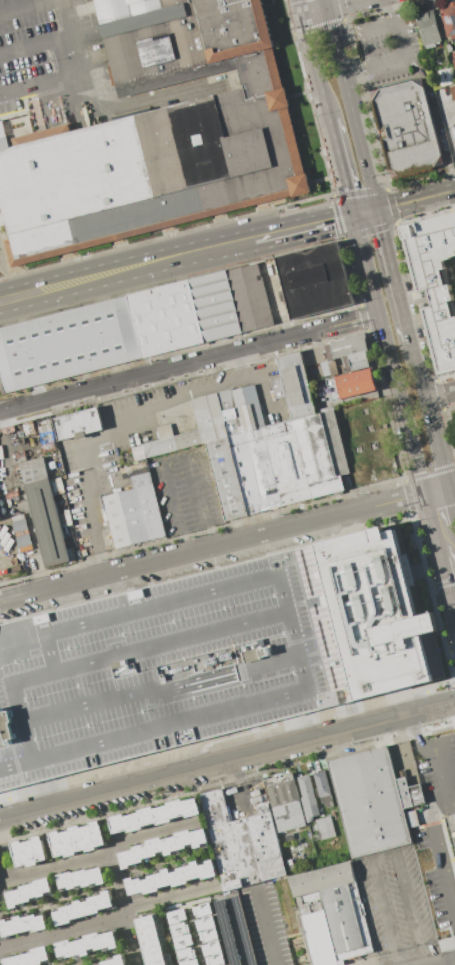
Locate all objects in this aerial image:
road: (325, 5)
road: (346, 5)
road: (30, 7)
road: (301, 8)
road: (315, 13)
building: (448, 19)
building: (428, 28)
road: (378, 29)
road: (399, 40)
road: (34, 45)
parking lot: (41, 48)
parking lot: (387, 48)
building: (453, 63)
road: (373, 64)
road: (316, 68)
building: (445, 77)
road: (39, 83)
road: (386, 84)
building: (452, 92)
road: (102, 108)
road: (352, 109)
parking lot: (1, 116)
road: (436, 118)
road: (447, 125)
building: (406, 128)
building: (453, 132)
building: (157, 135)
road: (342, 167)
road: (416, 199)
traffic signals: (378, 210)
road: (366, 213)
traffic signals: (354, 216)
road: (307, 226)
parking lot: (1, 253)
road: (130, 267)
road: (393, 274)
building: (313, 280)
building: (436, 282)
building: (249, 296)
building: (214, 305)
building: (164, 318)
road: (295, 334)
building: (66, 343)
building: (349, 351)
road: (389, 353)
road: (240, 363)
road: (105, 383)
building: (349, 383)
road: (439, 395)
road: (178, 402)
road: (428, 411)
building: (78, 423)
building: (263, 445)
building: (138, 453)
road: (174, 456)
road: (435, 488)
parking lot: (184, 490)
road: (453, 498)
road: (451, 500)
building: (44, 511)
building: (133, 512)
road: (432, 524)
road: (91, 526)
road: (212, 547)
road: (445, 577)
road: (453, 596)
road: (453, 604)
building: (209, 655)
parking lot: (167, 666)
road: (433, 705)
road: (205, 765)
building: (284, 801)
building: (372, 801)
building: (317, 802)
road: (450, 803)
building: (154, 815)
road: (440, 815)
road: (0, 827)
parking lot: (437, 829)
road: (151, 834)
building: (77, 839)
building: (242, 844)
building: (163, 847)
building: (29, 851)
road: (384, 854)
road: (54, 866)
building: (171, 877)
building: (81, 879)
building: (29, 893)
road: (171, 896)
parking lot: (393, 901)
building: (82, 907)
road: (123, 907)
building: (201, 910)
building: (331, 914)
building: (176, 915)
building: (204, 923)
road: (454, 923)
building: (22, 924)
building: (178, 928)
building: (233, 931)
road: (63, 934)
building: (208, 935)
building: (150, 940)
building: (182, 941)
building: (86, 945)
building: (211, 947)
building: (186, 953)
building: (29, 957)
building: (213, 959)
building: (113, 961)
building: (189, 962)

